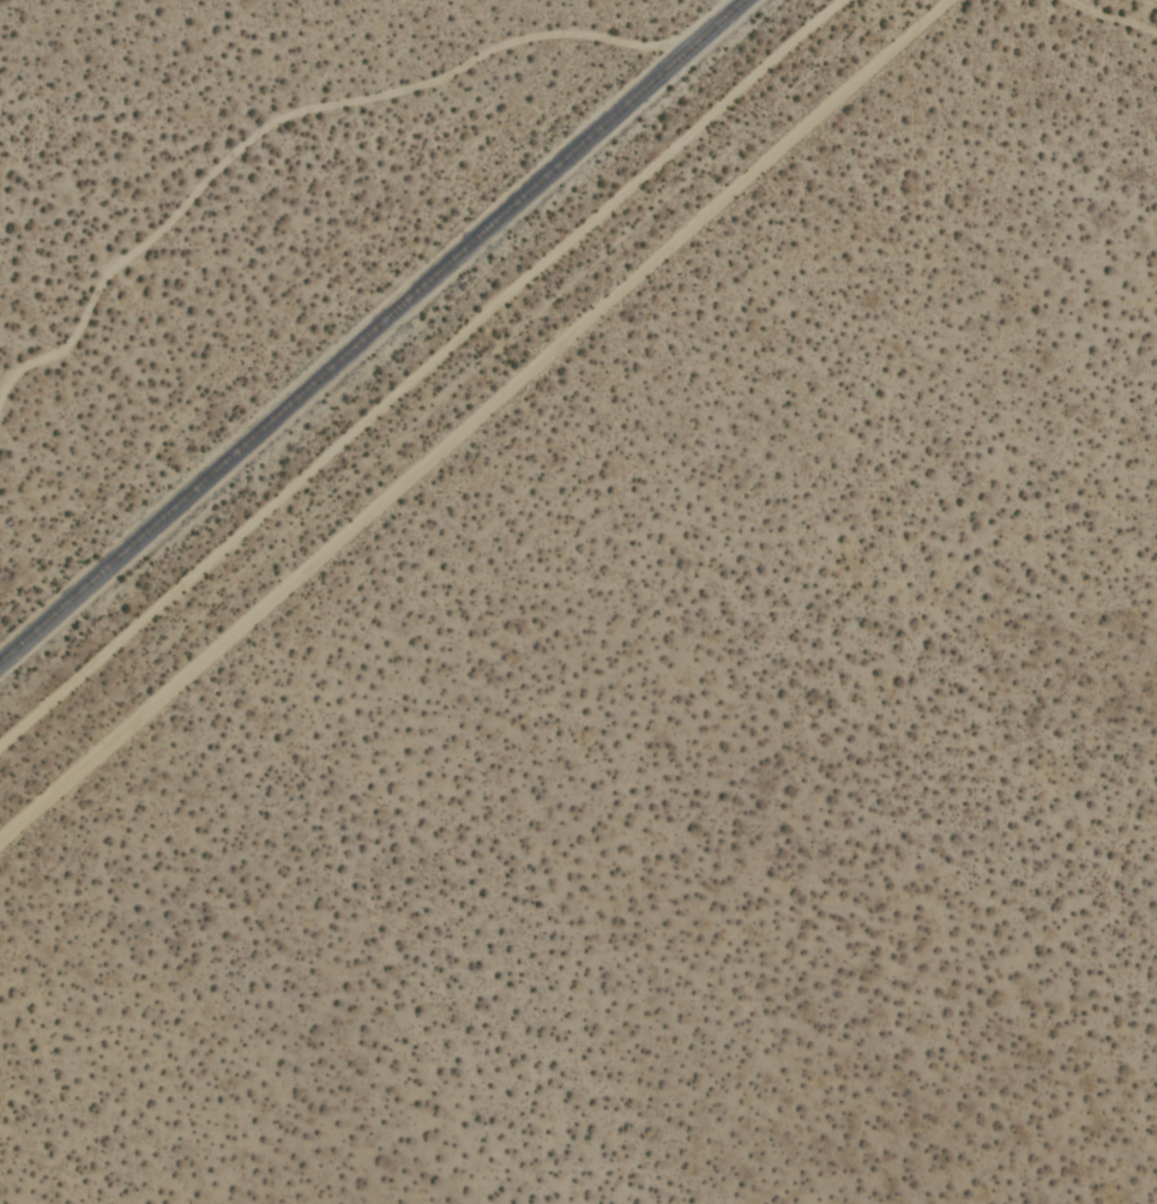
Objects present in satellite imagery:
railway: (369, 331)

